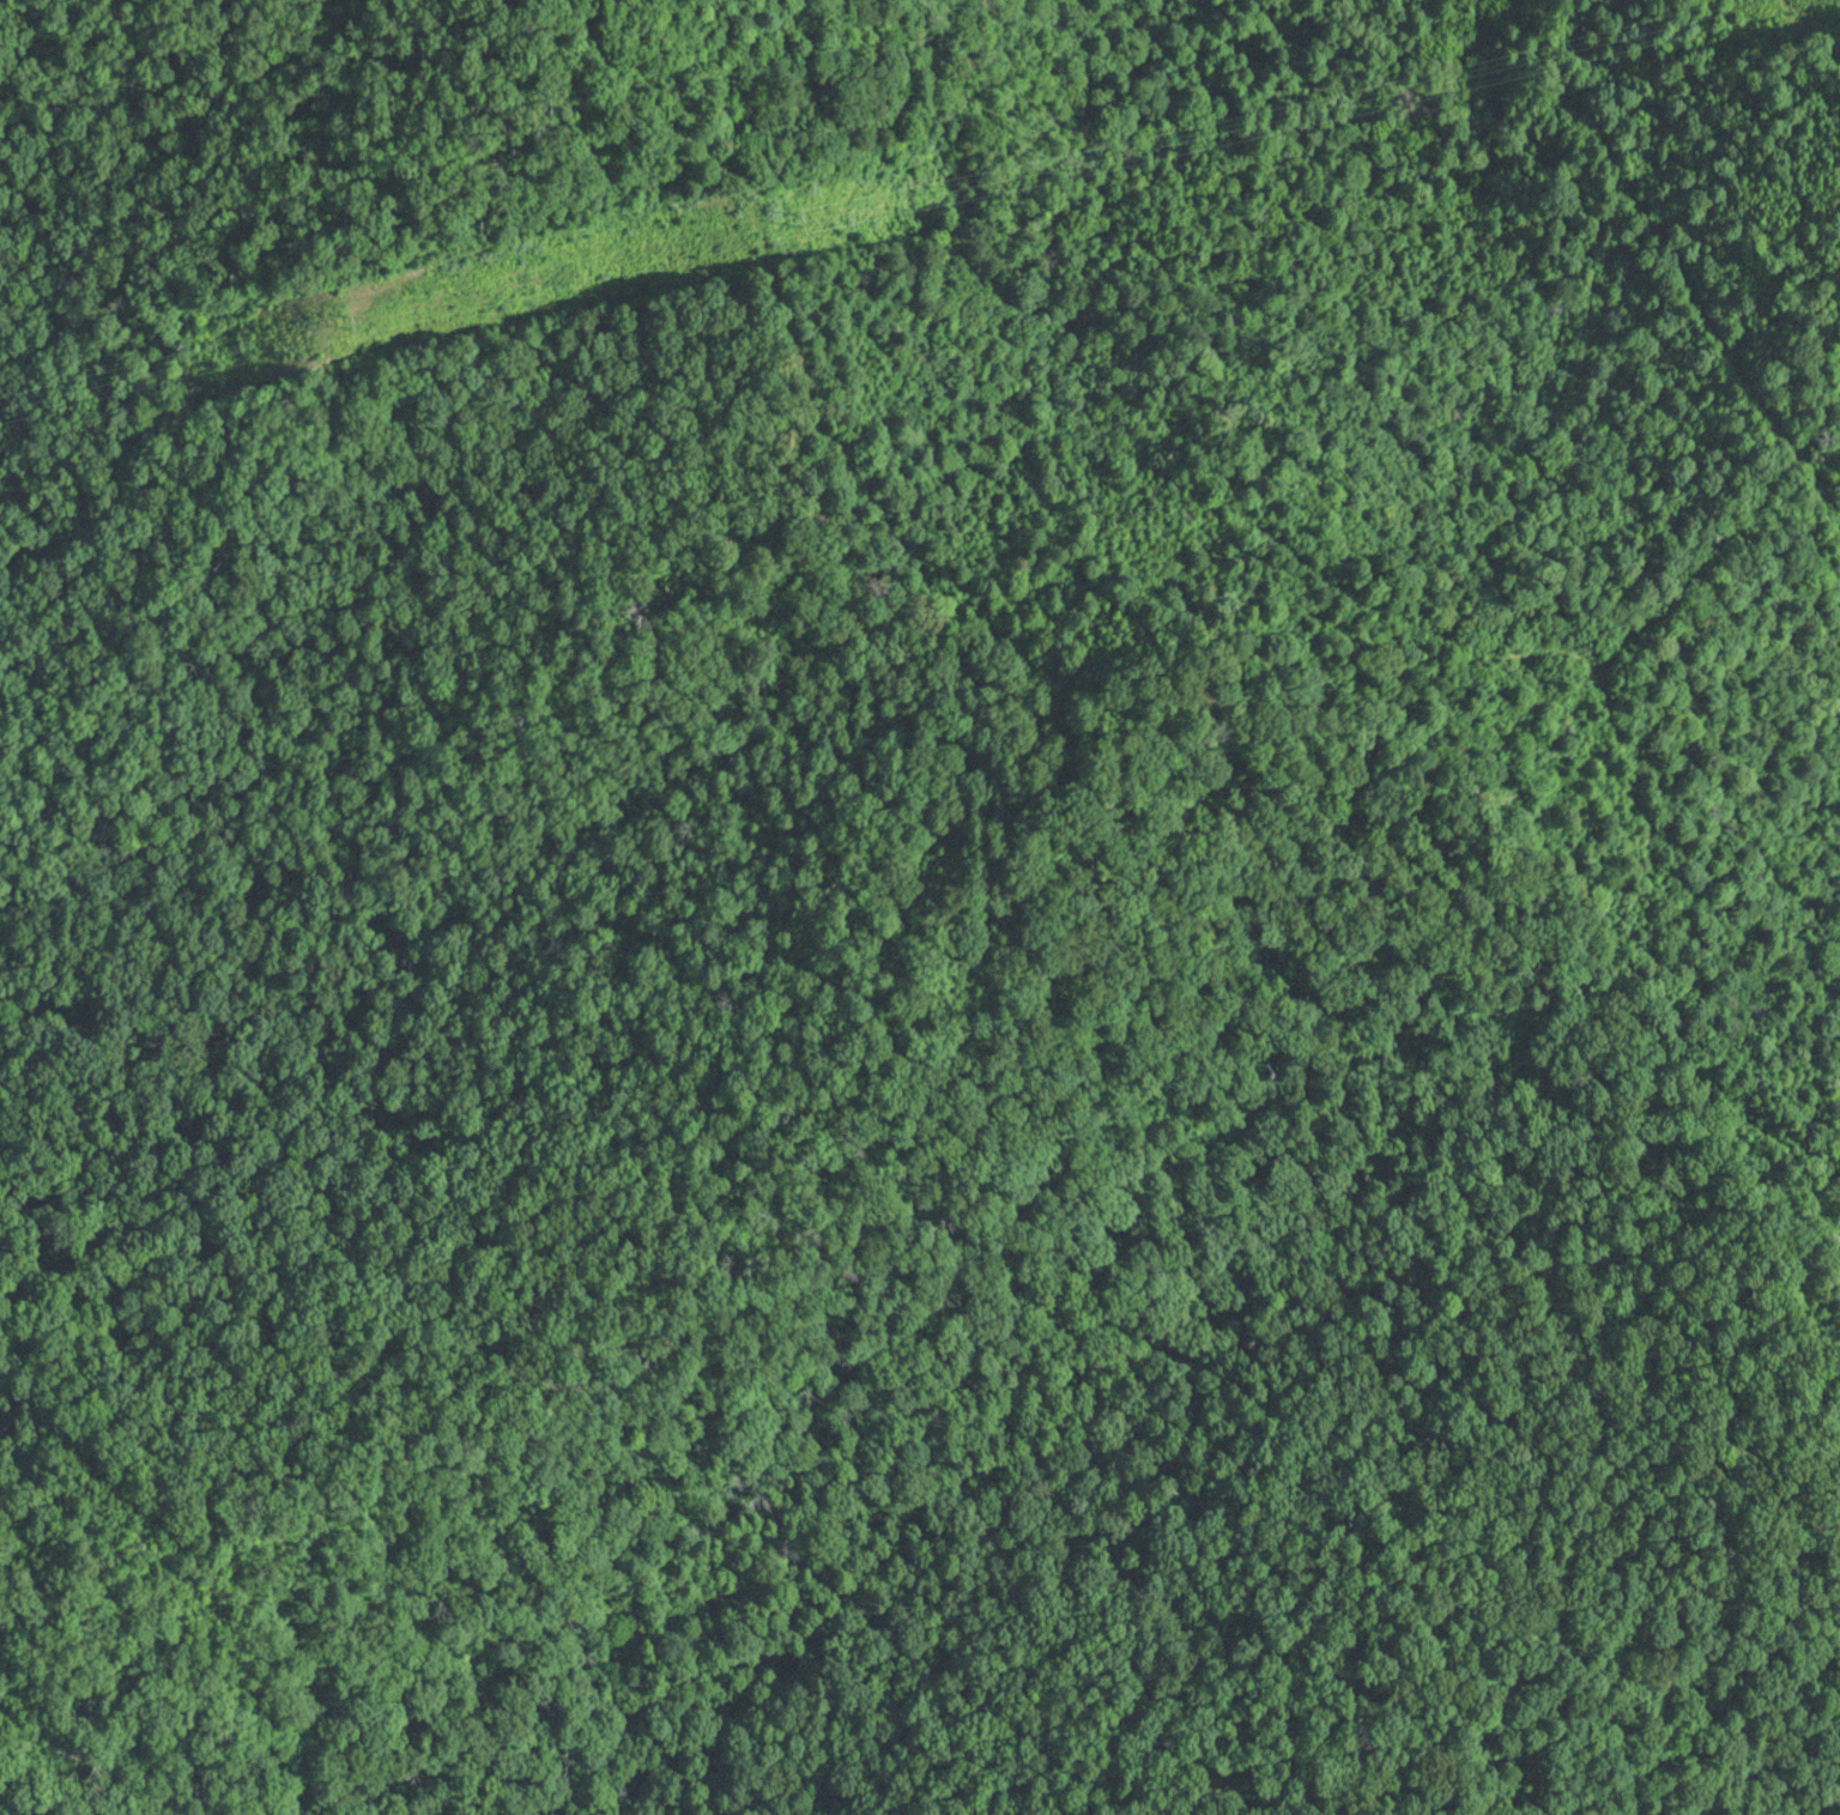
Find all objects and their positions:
power tower: (774, 223)

